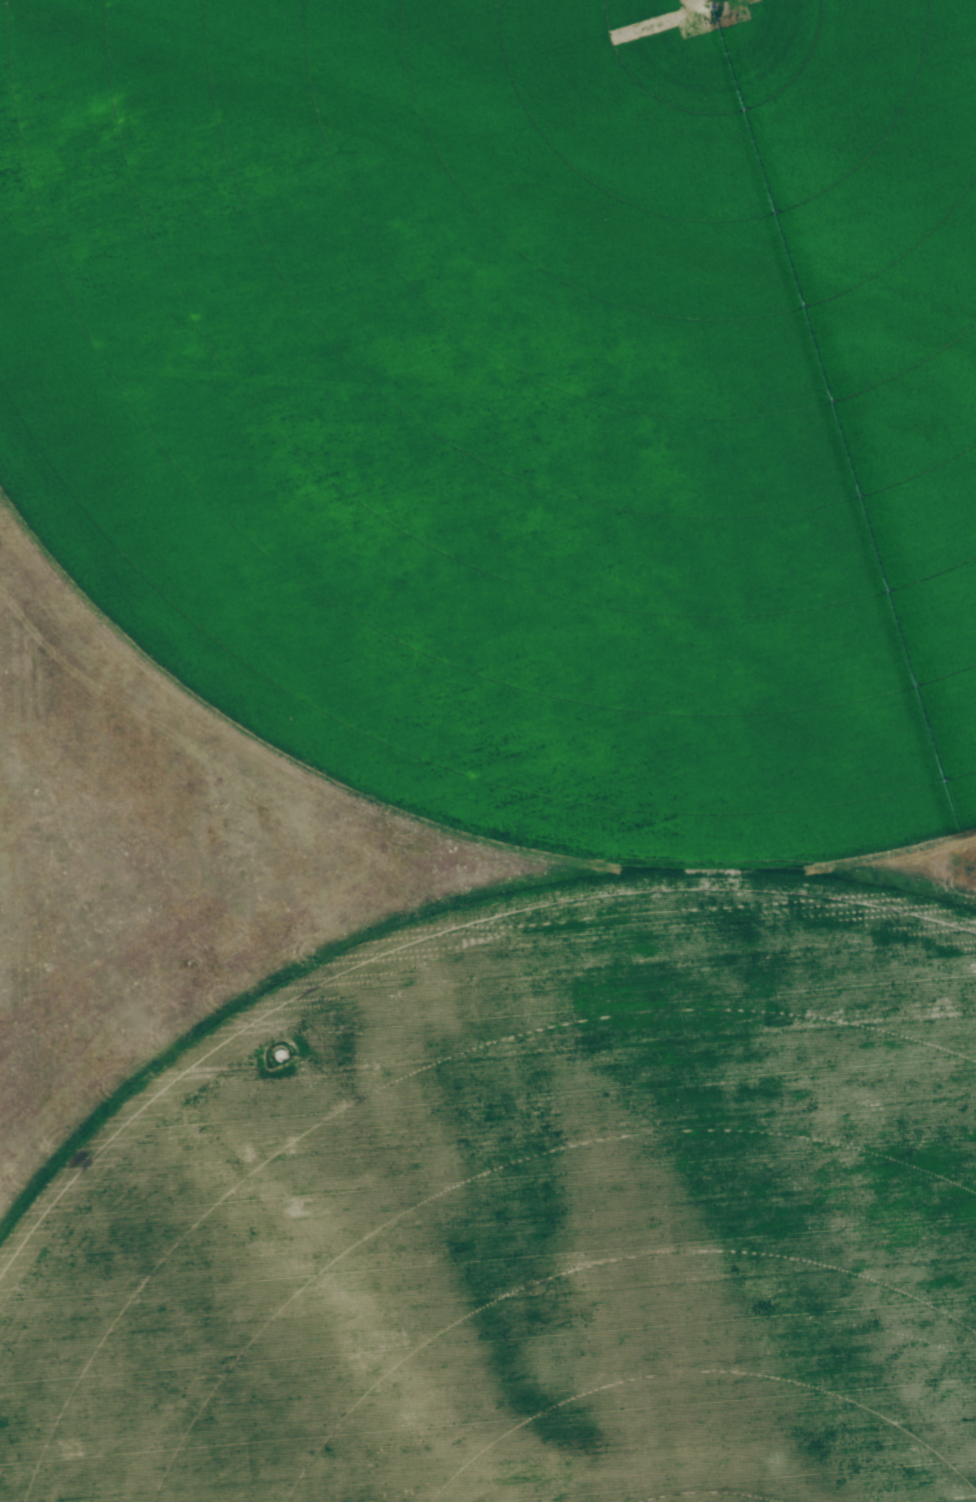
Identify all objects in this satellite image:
crop: (530, 752)

